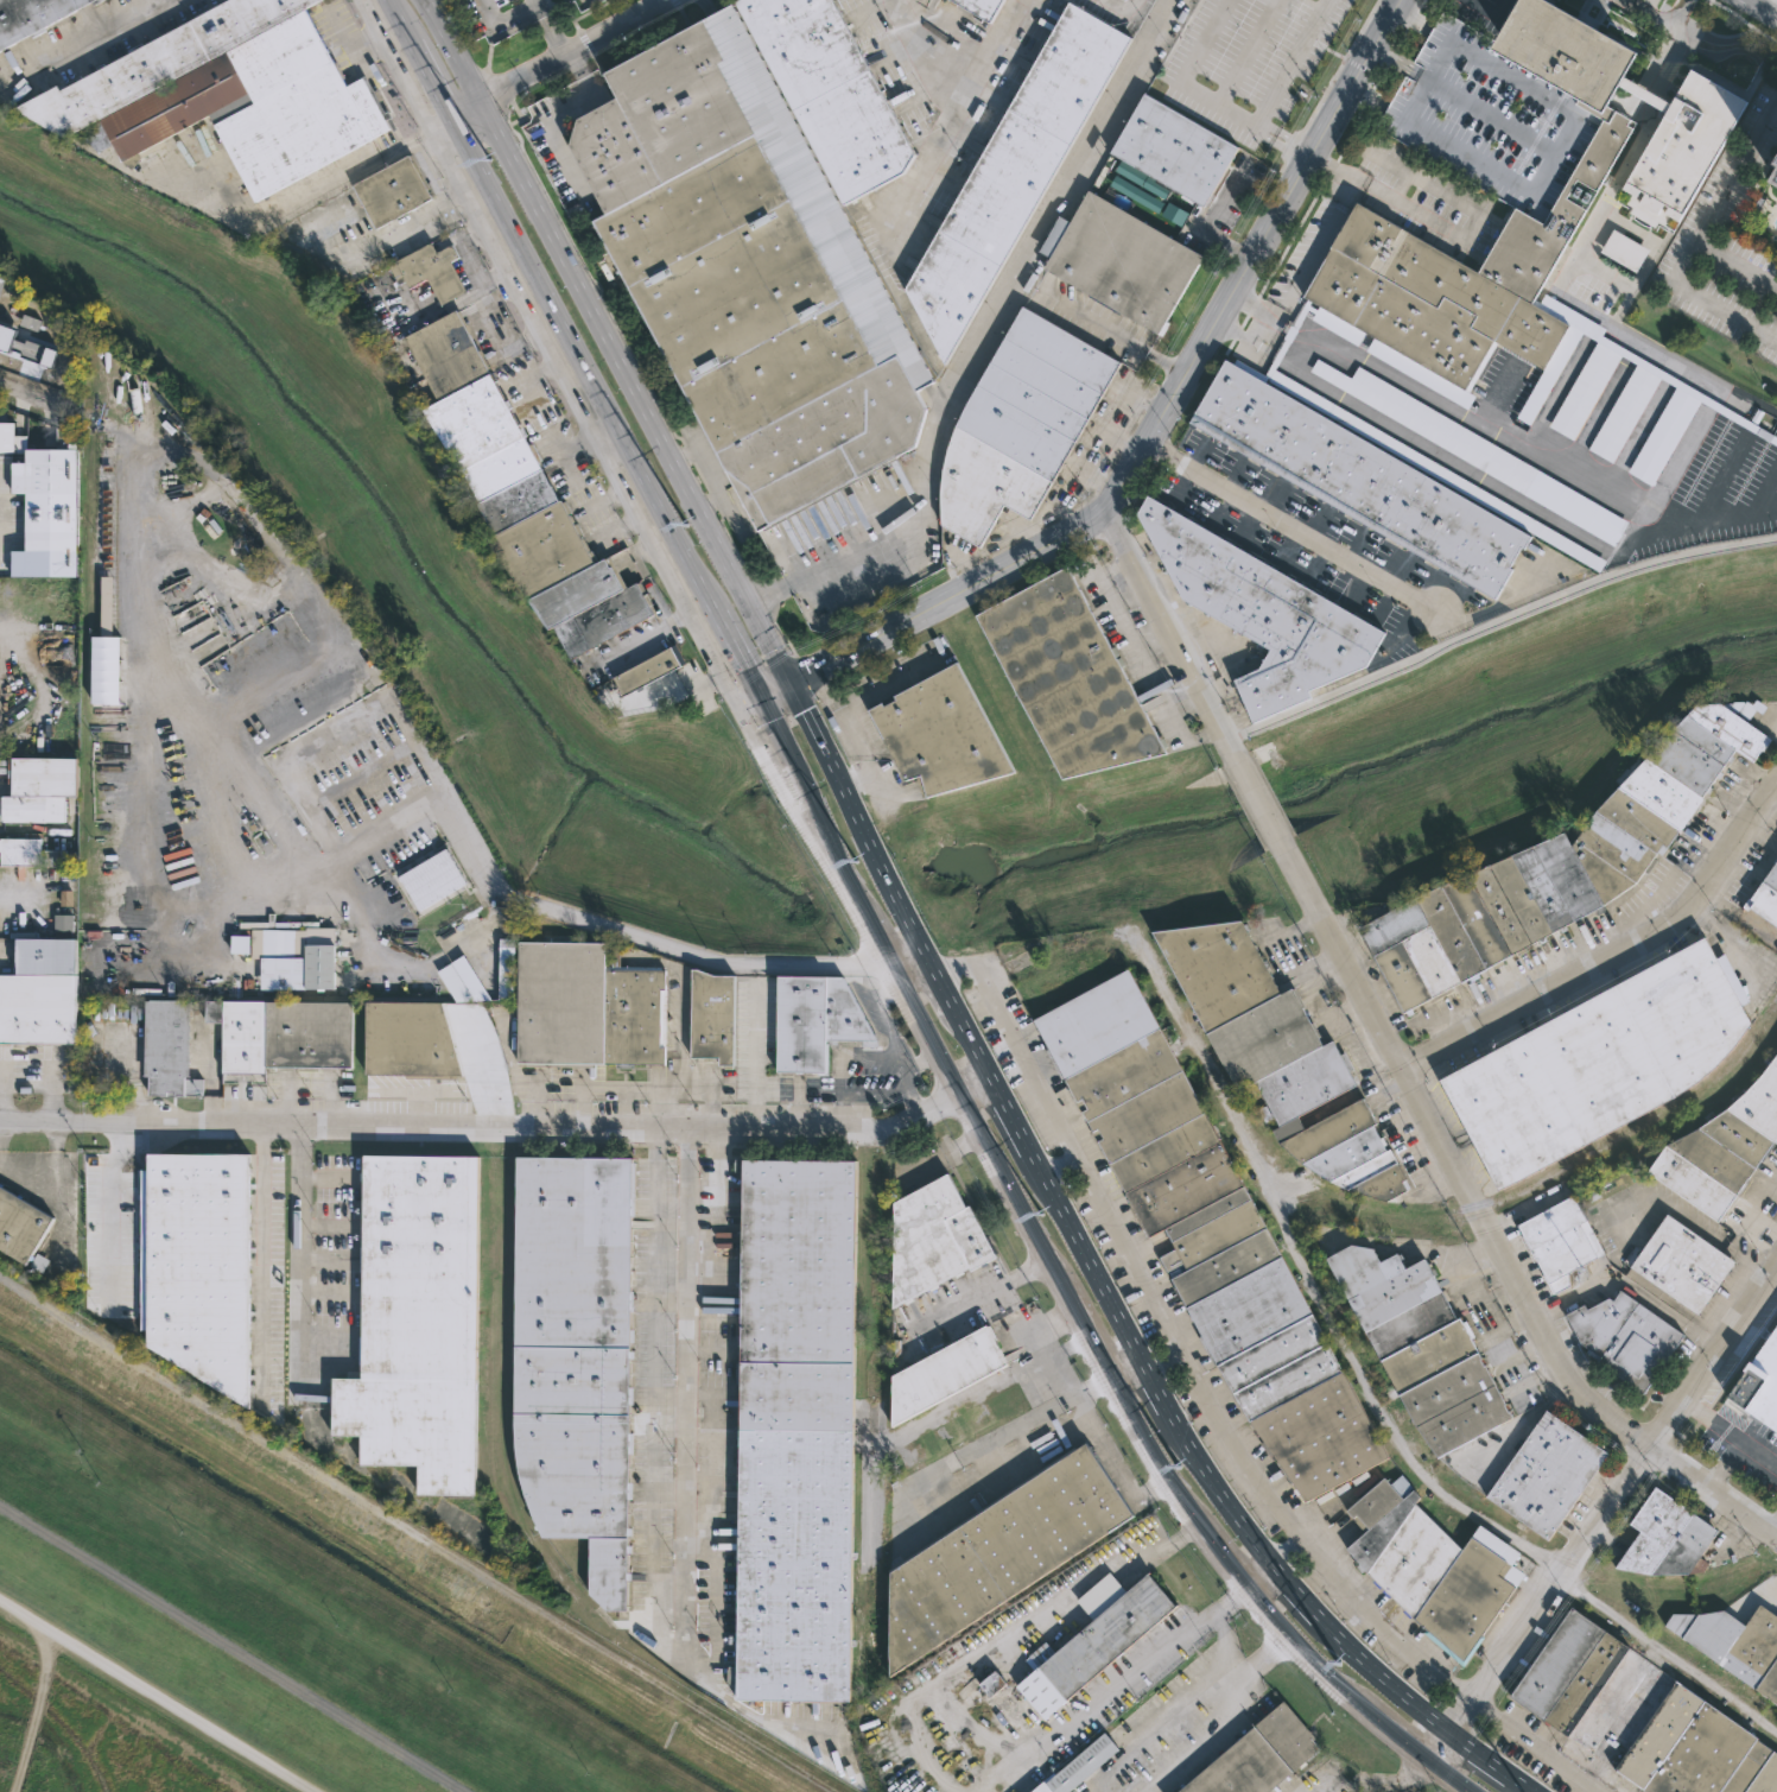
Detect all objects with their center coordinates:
road: (533, 2)
road: (1421, 2)
building: (980, 7)
road: (1125, 10)
road: (1492, 10)
road: (1758, 10)
road: (1650, 12)
road: (1678, 12)
building: (31, 17)
road: (1413, 17)
road: (1411, 19)
road: (503, 20)
road: (1743, 20)
road: (548, 29)
road: (1678, 33)
road: (1398, 38)
road: (78, 40)
building: (1570, 51)
road: (559, 55)
road: (988, 59)
road: (1386, 59)
road: (1288, 63)
road: (1179, 78)
road: (1375, 80)
building: (830, 91)
road: (1644, 93)
building: (223, 94)
building: (1646, 95)
road: (1364, 97)
road: (1366, 97)
building: (1491, 116)
parking garage: (1491, 116)
road: (953, 120)
road: (1351, 134)
road: (1281, 140)
building: (1682, 143)
building: (1175, 150)
power tower: (489, 159)
building: (1776, 162)
road: (1626, 163)
building: (1014, 173)
road: (1326, 176)
building: (1775, 178)
building: (393, 191)
road: (297, 196)
building: (1645, 210)
building: (1174, 214)
road: (1206, 221)
road: (1322, 229)
road: (1699, 242)
road: (1287, 243)
building: (1624, 249)
road: (332, 257)
building: (1122, 261)
road: (1738, 266)
building: (430, 272)
building: (749, 272)
building: (1455, 284)
road: (591, 302)
road: (1251, 305)
road: (1259, 309)
road: (1244, 322)
building: (30, 323)
road: (1294, 328)
road: (988, 330)
road: (1112, 334)
road: (1236, 334)
building: (6, 336)
road: (1244, 337)
road: (575, 347)
road: (1227, 347)
building: (1608, 348)
building: (34, 350)
road: (1278, 357)
road: (520, 379)
road: (26, 398)
road: (1169, 399)
building: (1021, 425)
road: (592, 433)
road: (558, 436)
building: (6, 438)
road: (578, 441)
building: (1475, 451)
road: (1531, 451)
building: (1420, 460)
road: (572, 464)
road: (1470, 469)
building: (1359, 479)
building: (520, 496)
building: (47, 498)
road: (601, 500)
power tower: (684, 525)
road: (1294, 526)
road: (614, 528)
road: (4, 533)
building: (1263, 609)
road: (1498, 623)
road: (1167, 625)
road: (770, 642)
road: (1137, 657)
road: (763, 669)
building: (106, 670)
building: (648, 670)
road: (802, 675)
road: (802, 676)
building: (1067, 676)
road: (204, 679)
traffic signals: (791, 682)
road: (894, 682)
road: (826, 686)
road: (775, 689)
traffic signals: (761, 696)
road: (744, 702)
road: (839, 708)
road: (782, 709)
road: (815, 733)
road: (855, 734)
building: (941, 735)
road: (863, 773)
building: (38, 787)
road: (1256, 792)
road: (452, 803)
road: (367, 841)
building: (411, 841)
building: (30, 854)
power tower: (856, 862)
building: (1562, 863)
building: (432, 879)
road: (274, 889)
building: (1768, 895)
building: (240, 943)
building: (288, 943)
road: (905, 951)
building: (318, 957)
road: (1618, 960)
road: (861, 964)
building: (504, 968)
building: (1219, 969)
building: (469, 979)
building: (211, 987)
building: (40, 988)
building: (560, 1002)
building: (633, 1009)
building: (711, 1015)
road: (681, 1017)
building: (814, 1020)
building: (280, 1033)
building: (408, 1039)
road: (926, 1039)
building: (1264, 1039)
building: (167, 1049)
road: (754, 1055)
building: (1603, 1062)
road: (988, 1071)
building: (1303, 1088)
road: (975, 1089)
road: (4, 1090)
road: (671, 1091)
road: (49, 1094)
road: (94, 1122)
road: (576, 1127)
building: (1724, 1148)
building: (1351, 1153)
road: (938, 1157)
road: (1056, 1163)
road: (46, 1167)
power tower: (1040, 1211)
road: (116, 1214)
building: (19, 1227)
road: (1485, 1229)
building: (1211, 1235)
building: (933, 1239)
building: (1562, 1241)
road: (302, 1253)
road: (262, 1260)
building: (1684, 1264)
building: (198, 1266)
road: (1308, 1284)
road: (975, 1294)
building: (415, 1323)
building: (1626, 1338)
road: (1174, 1344)
road: (1068, 1347)
building: (1422, 1347)
building: (576, 1355)
road: (1127, 1366)
building: (944, 1374)
building: (1759, 1379)
road: (686, 1385)
road: (1091, 1387)
road: (1079, 1411)
building: (795, 1430)
power tower: (1176, 1464)
power tower: (75, 1469)
road: (999, 1469)
building: (1547, 1475)
road: (1604, 1511)
road: (1186, 1531)
railway: (412, 1537)
building: (1667, 1537)
road: (1286, 1549)
building: (999, 1554)
building: (1433, 1569)
road: (1263, 1576)
road: (1307, 1602)
road: (1226, 1603)
road: (1267, 1606)
road: (1208, 1614)
park: (254, 1633)
road: (999, 1638)
building: (1732, 1639)
building: (1091, 1640)
road: (1276, 1640)
road: (1226, 1645)
road: (233, 1648)
road: (697, 1655)
power tower: (1337, 1664)
building: (991, 1683)
building: (1769, 1683)
power tower: (442, 1689)
road: (157, 1697)
road: (1091, 1704)
road: (1173, 1704)
building: (1640, 1717)
road: (825, 1718)
road: (1202, 1735)
road: (1537, 1744)
building: (1261, 1756)
building: (1078, 1766)
road: (1396, 1775)
road: (1325, 1779)

